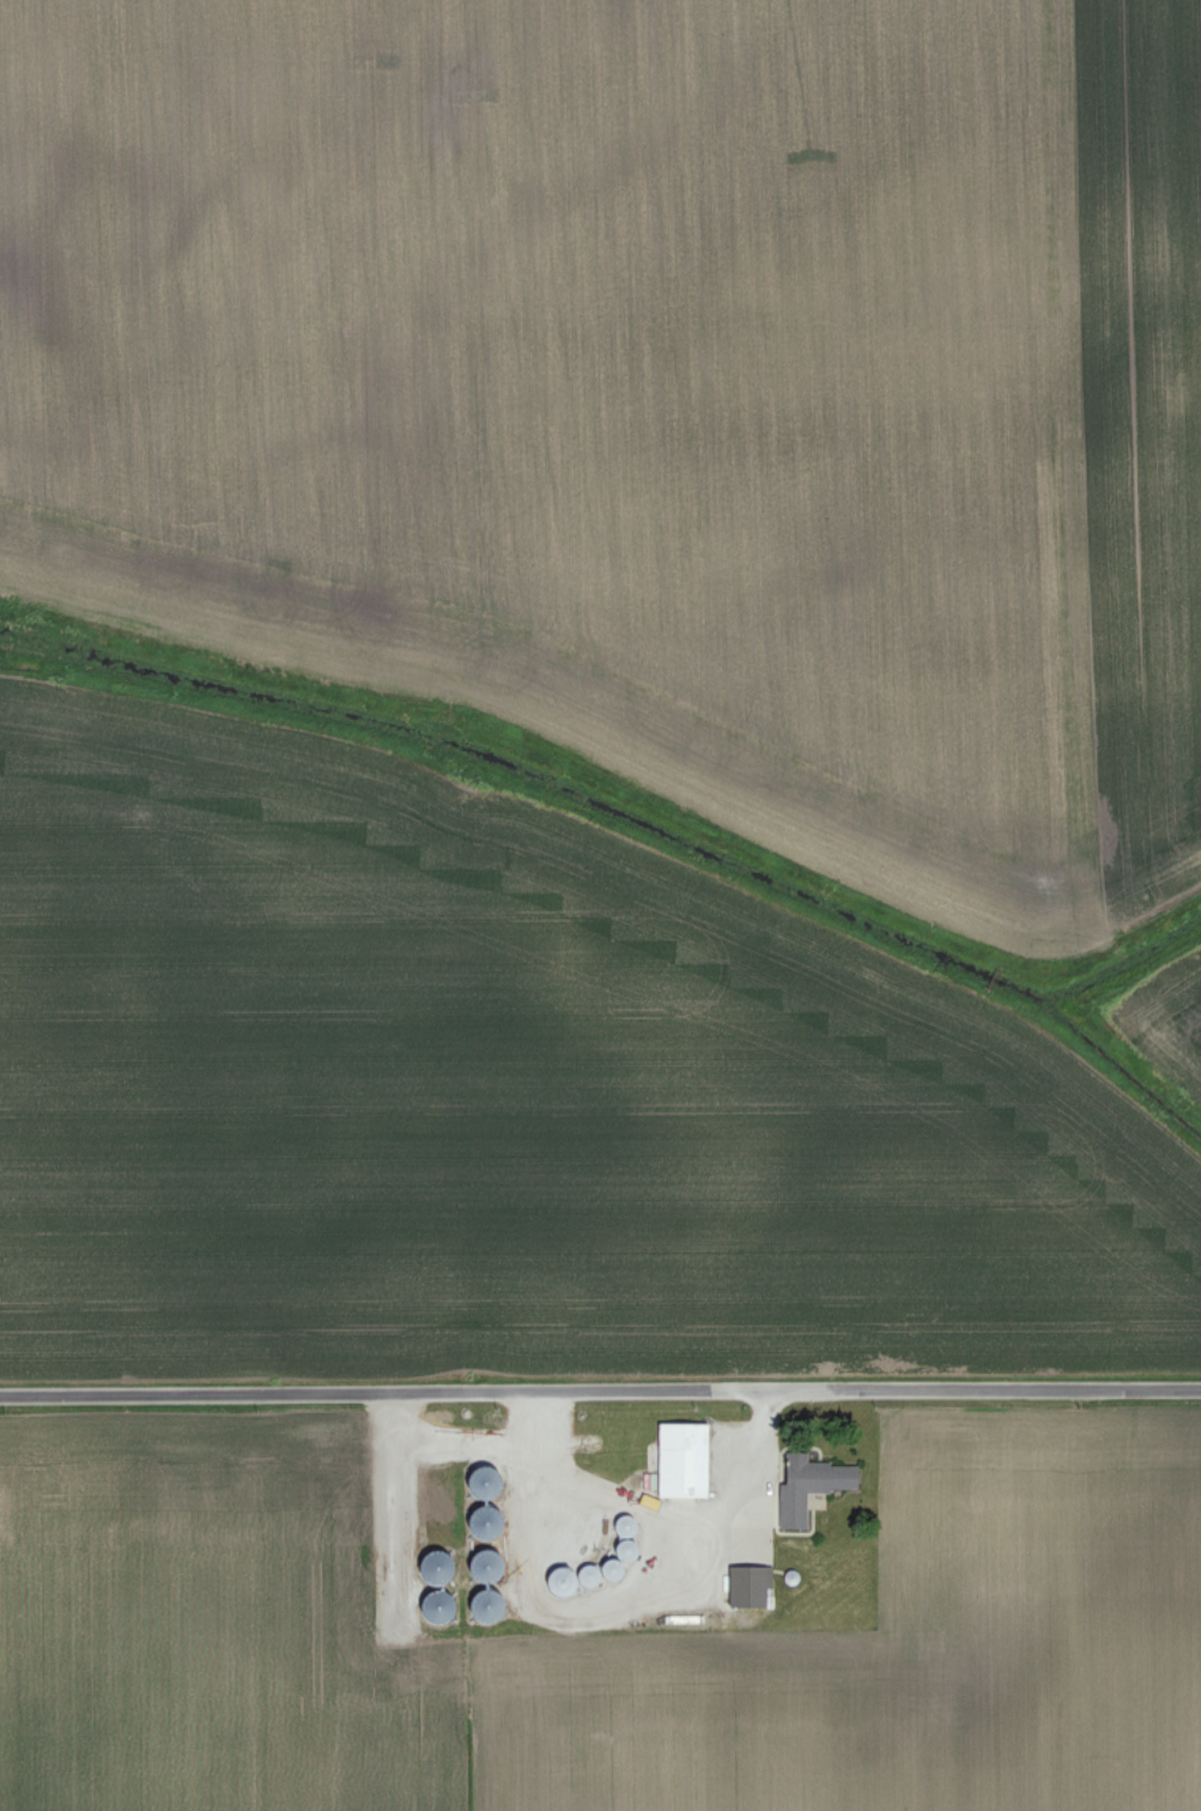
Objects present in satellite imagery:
road: (600, 1392)
building: (691, 1461)
road: (662, 1514)

